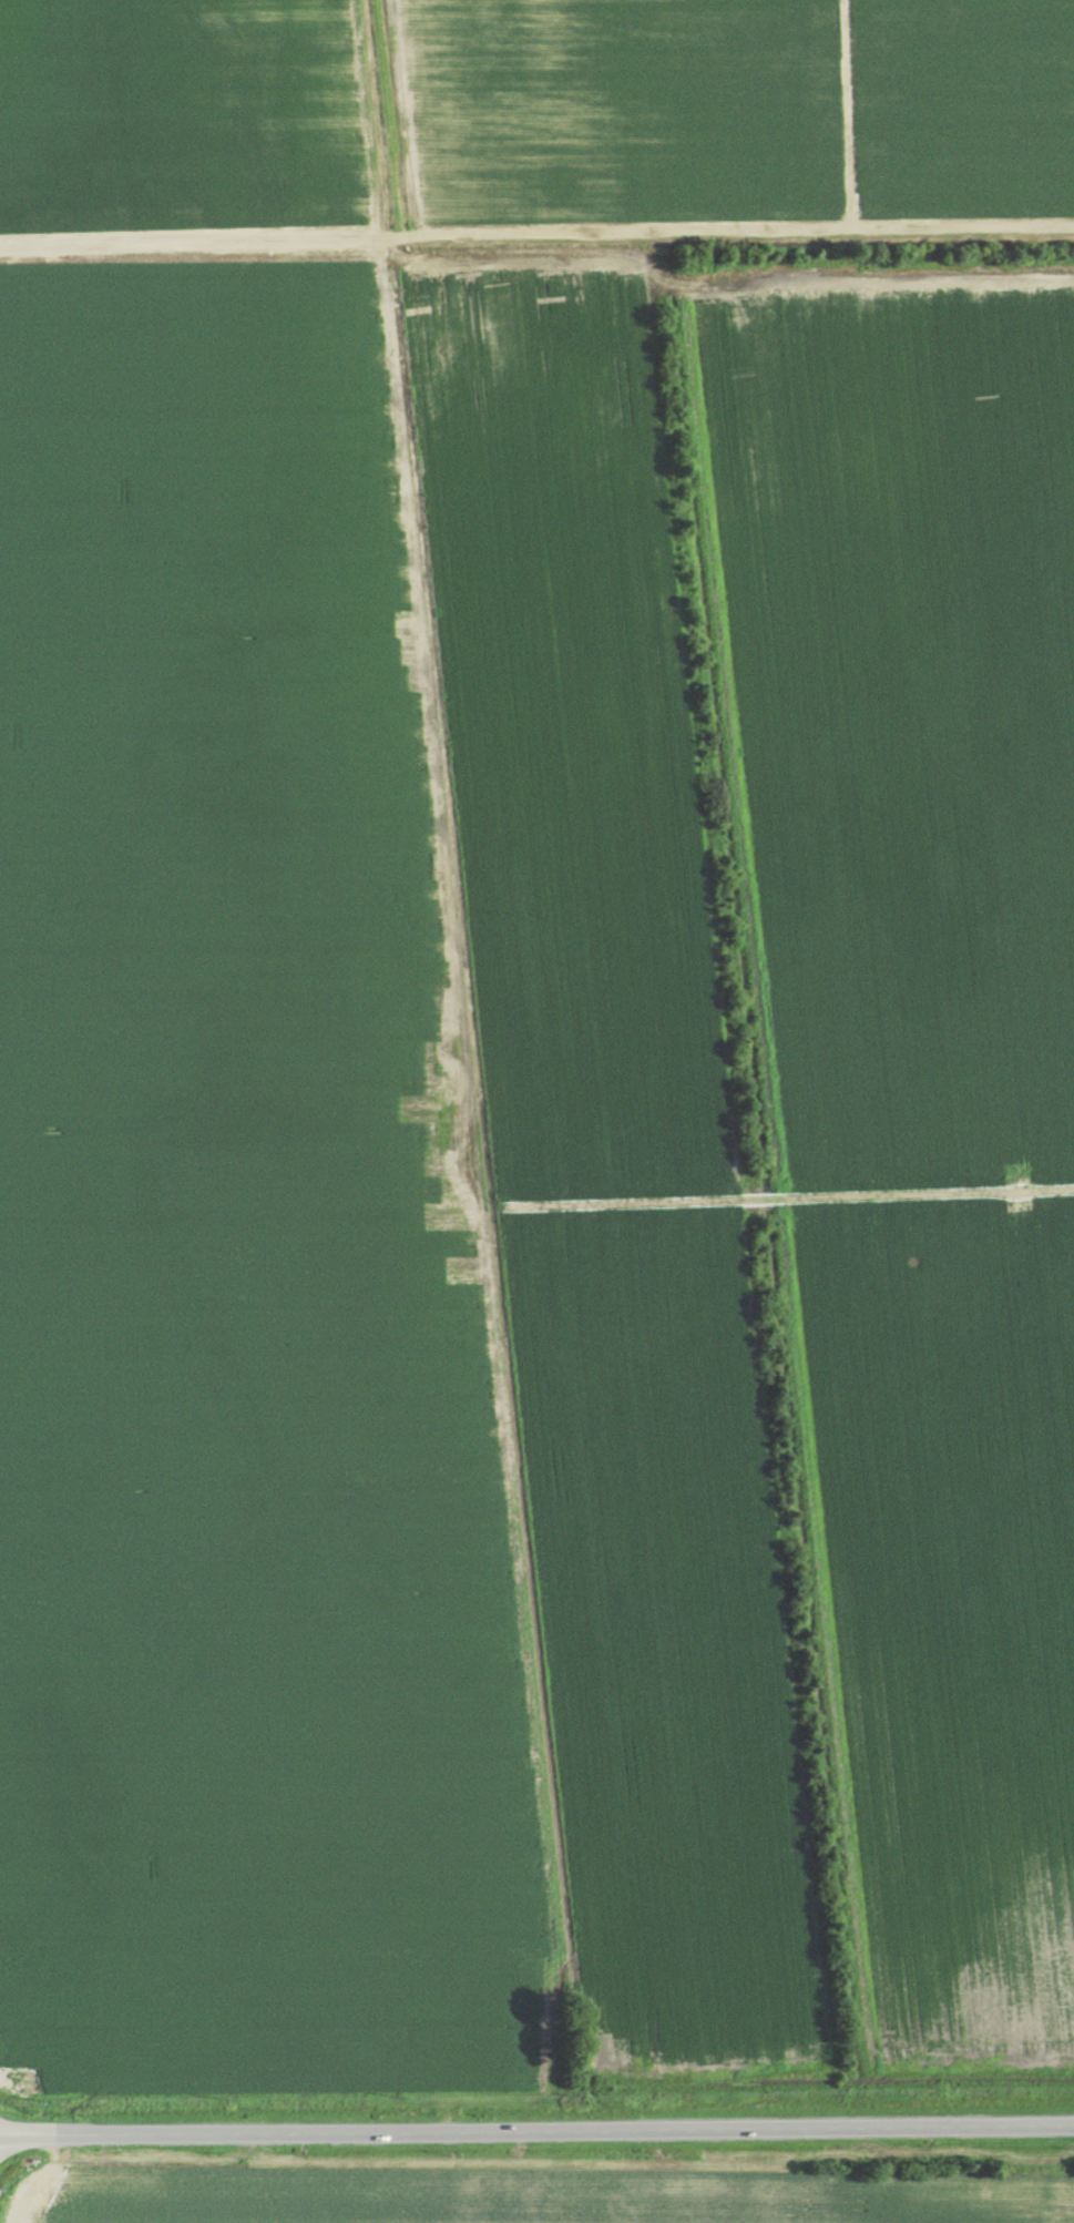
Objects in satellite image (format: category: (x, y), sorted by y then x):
road: (536, 2128)

